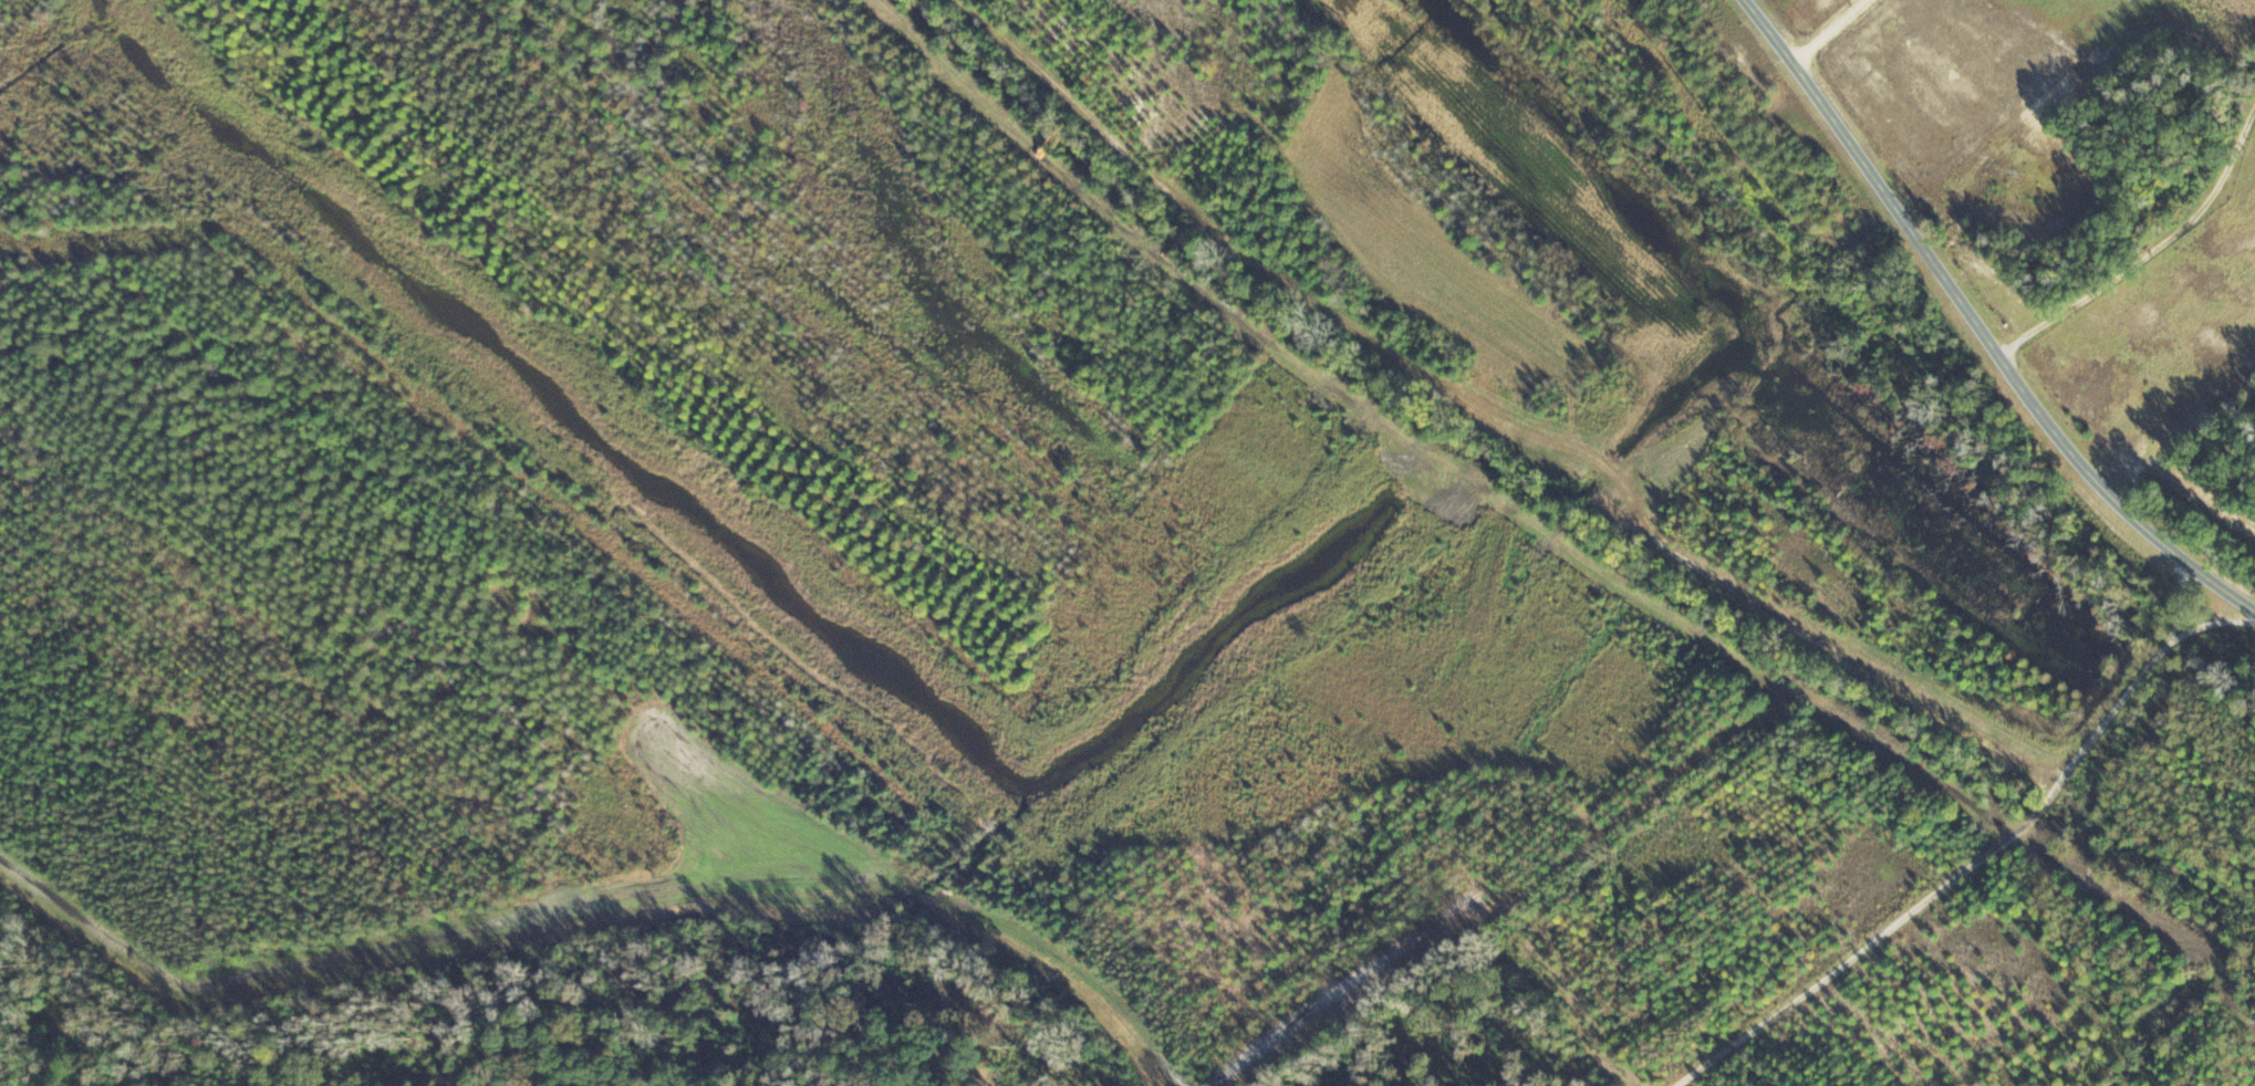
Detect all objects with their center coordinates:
road: (2081, 222)
road: (1984, 321)
road: (1977, 862)
road: (595, 916)
road: (1442, 939)

